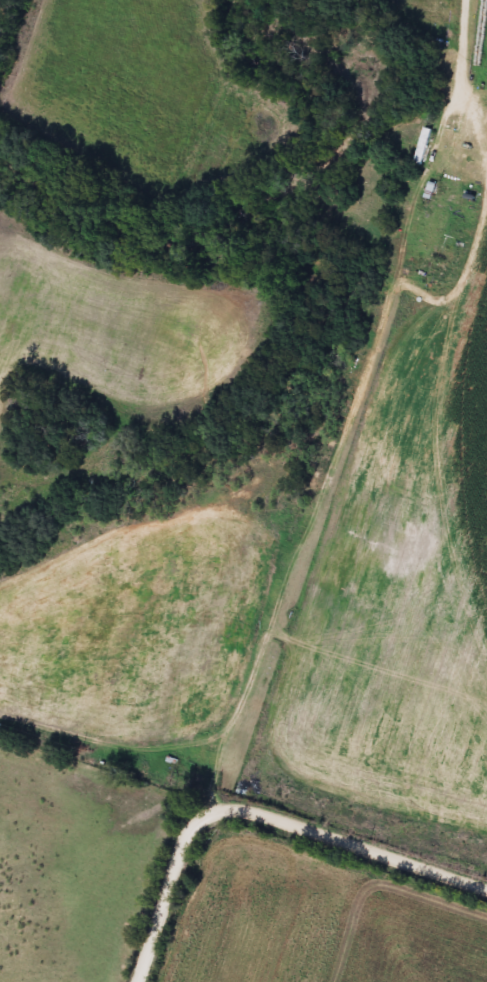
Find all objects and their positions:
building: (420, 146)
road: (274, 822)

